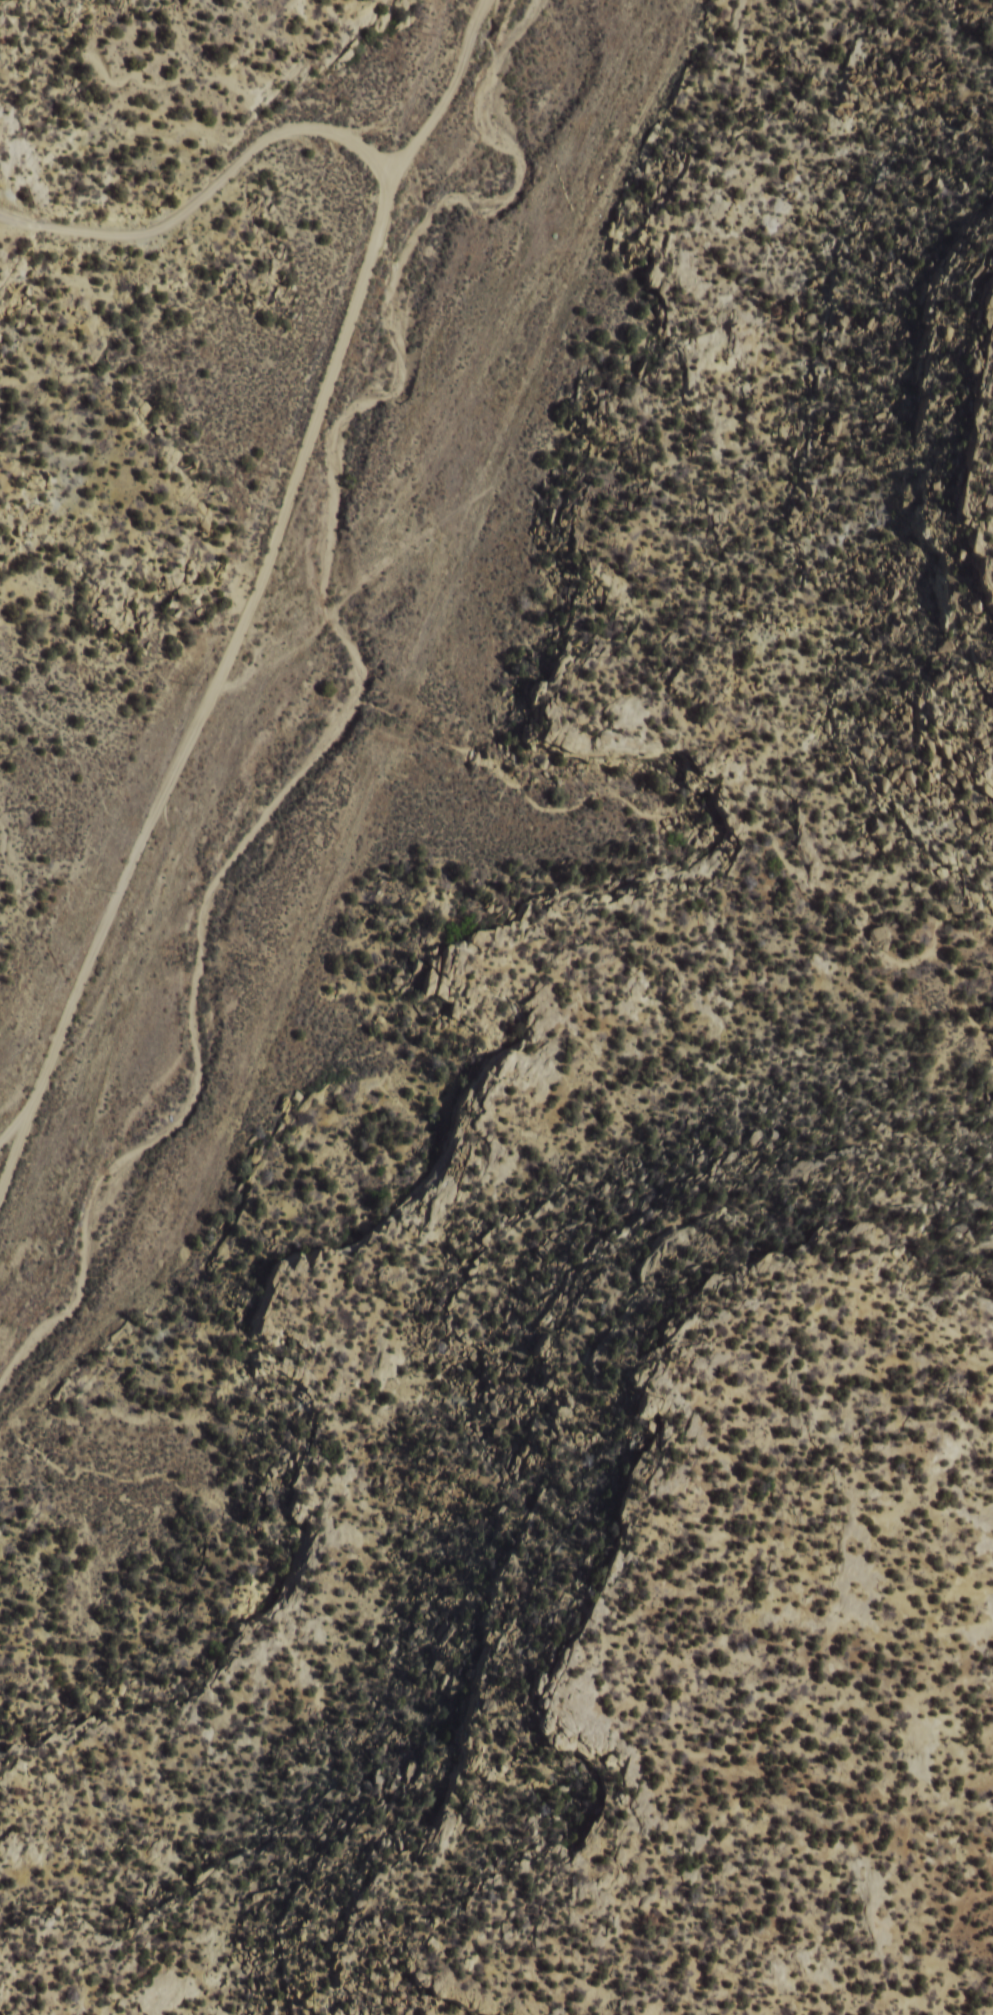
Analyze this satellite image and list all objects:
road: (220, 195)
road: (242, 588)

